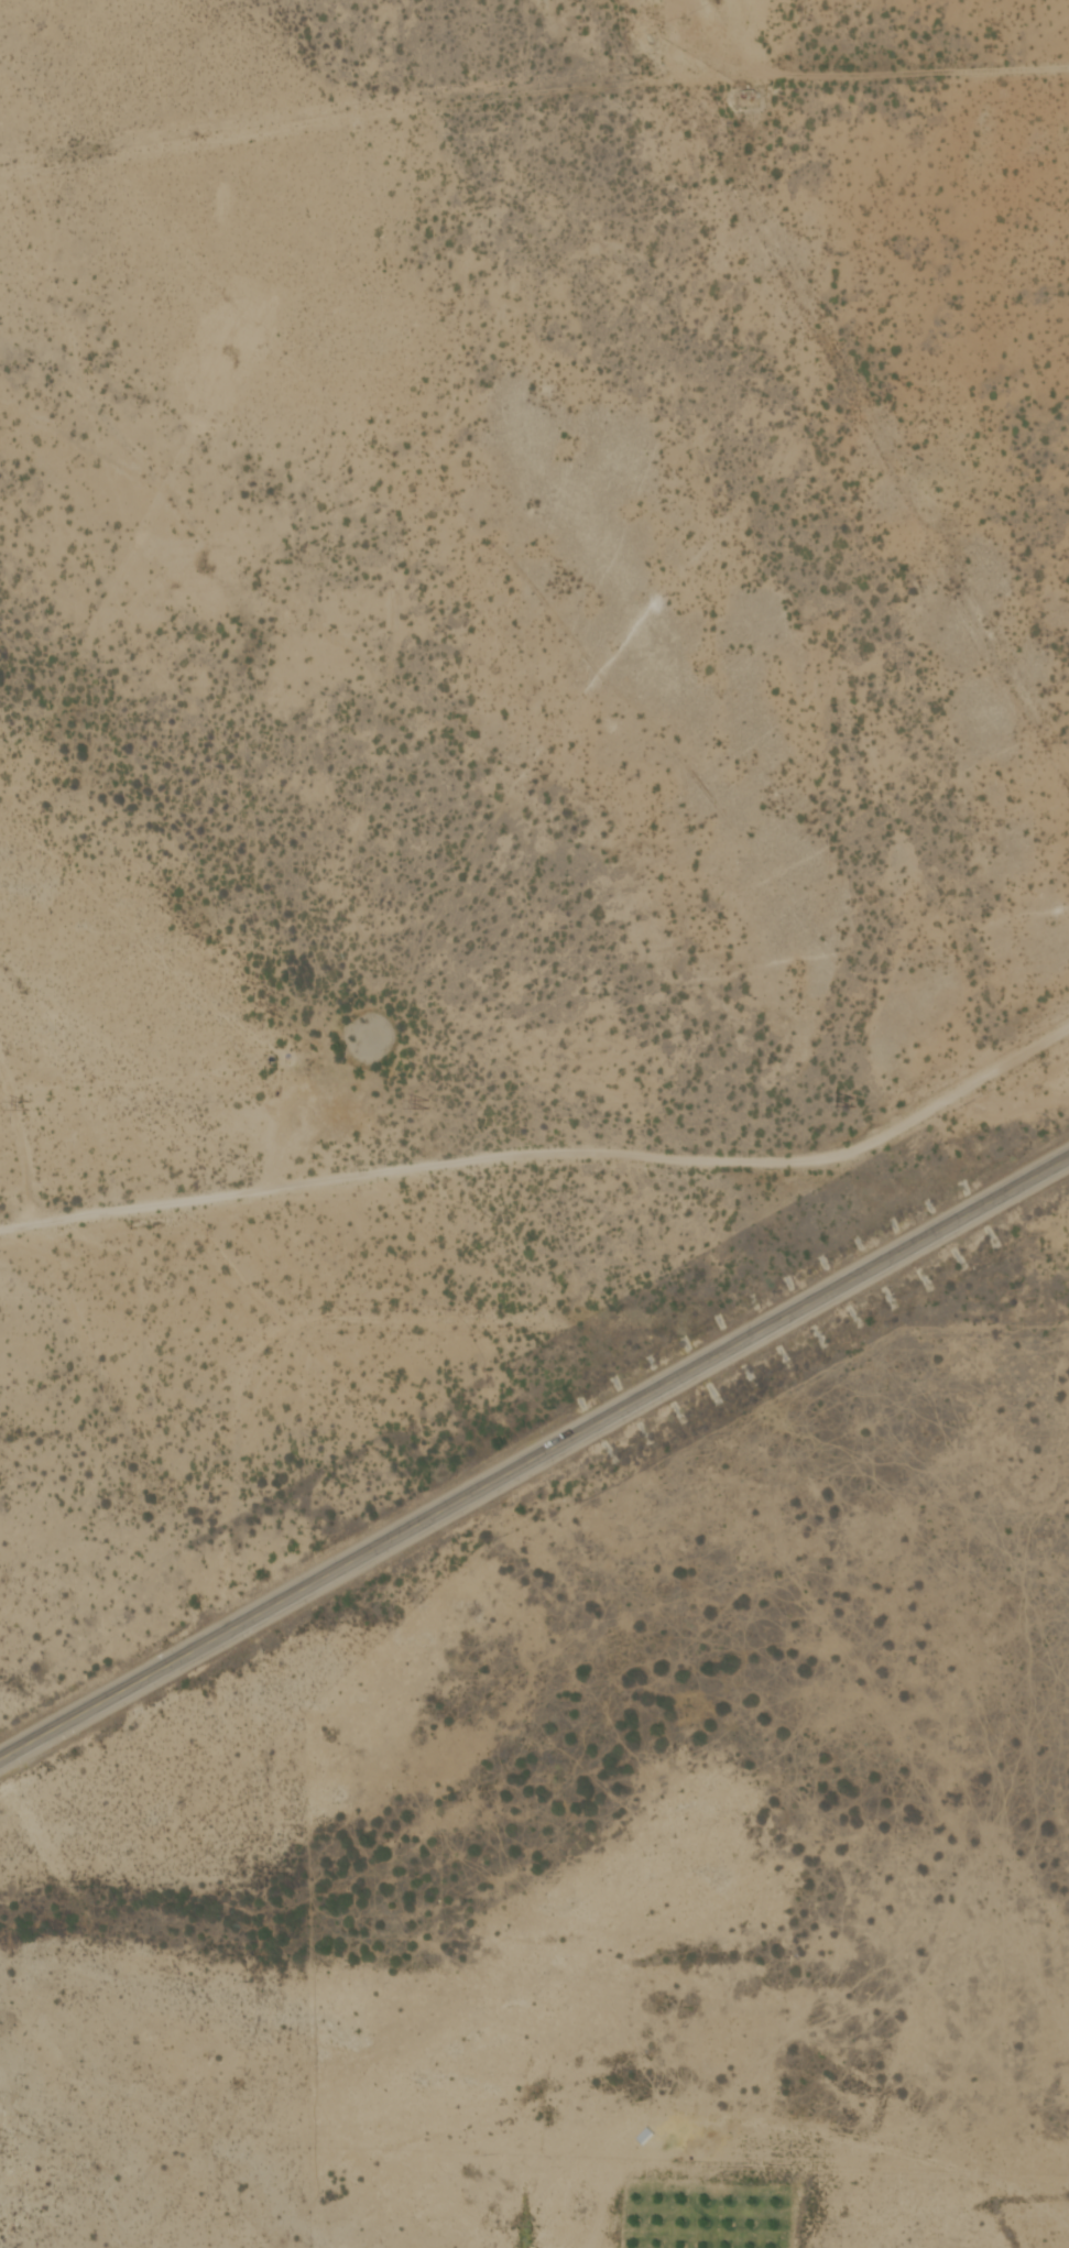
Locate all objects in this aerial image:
road: (548, 1148)
road: (534, 1455)

